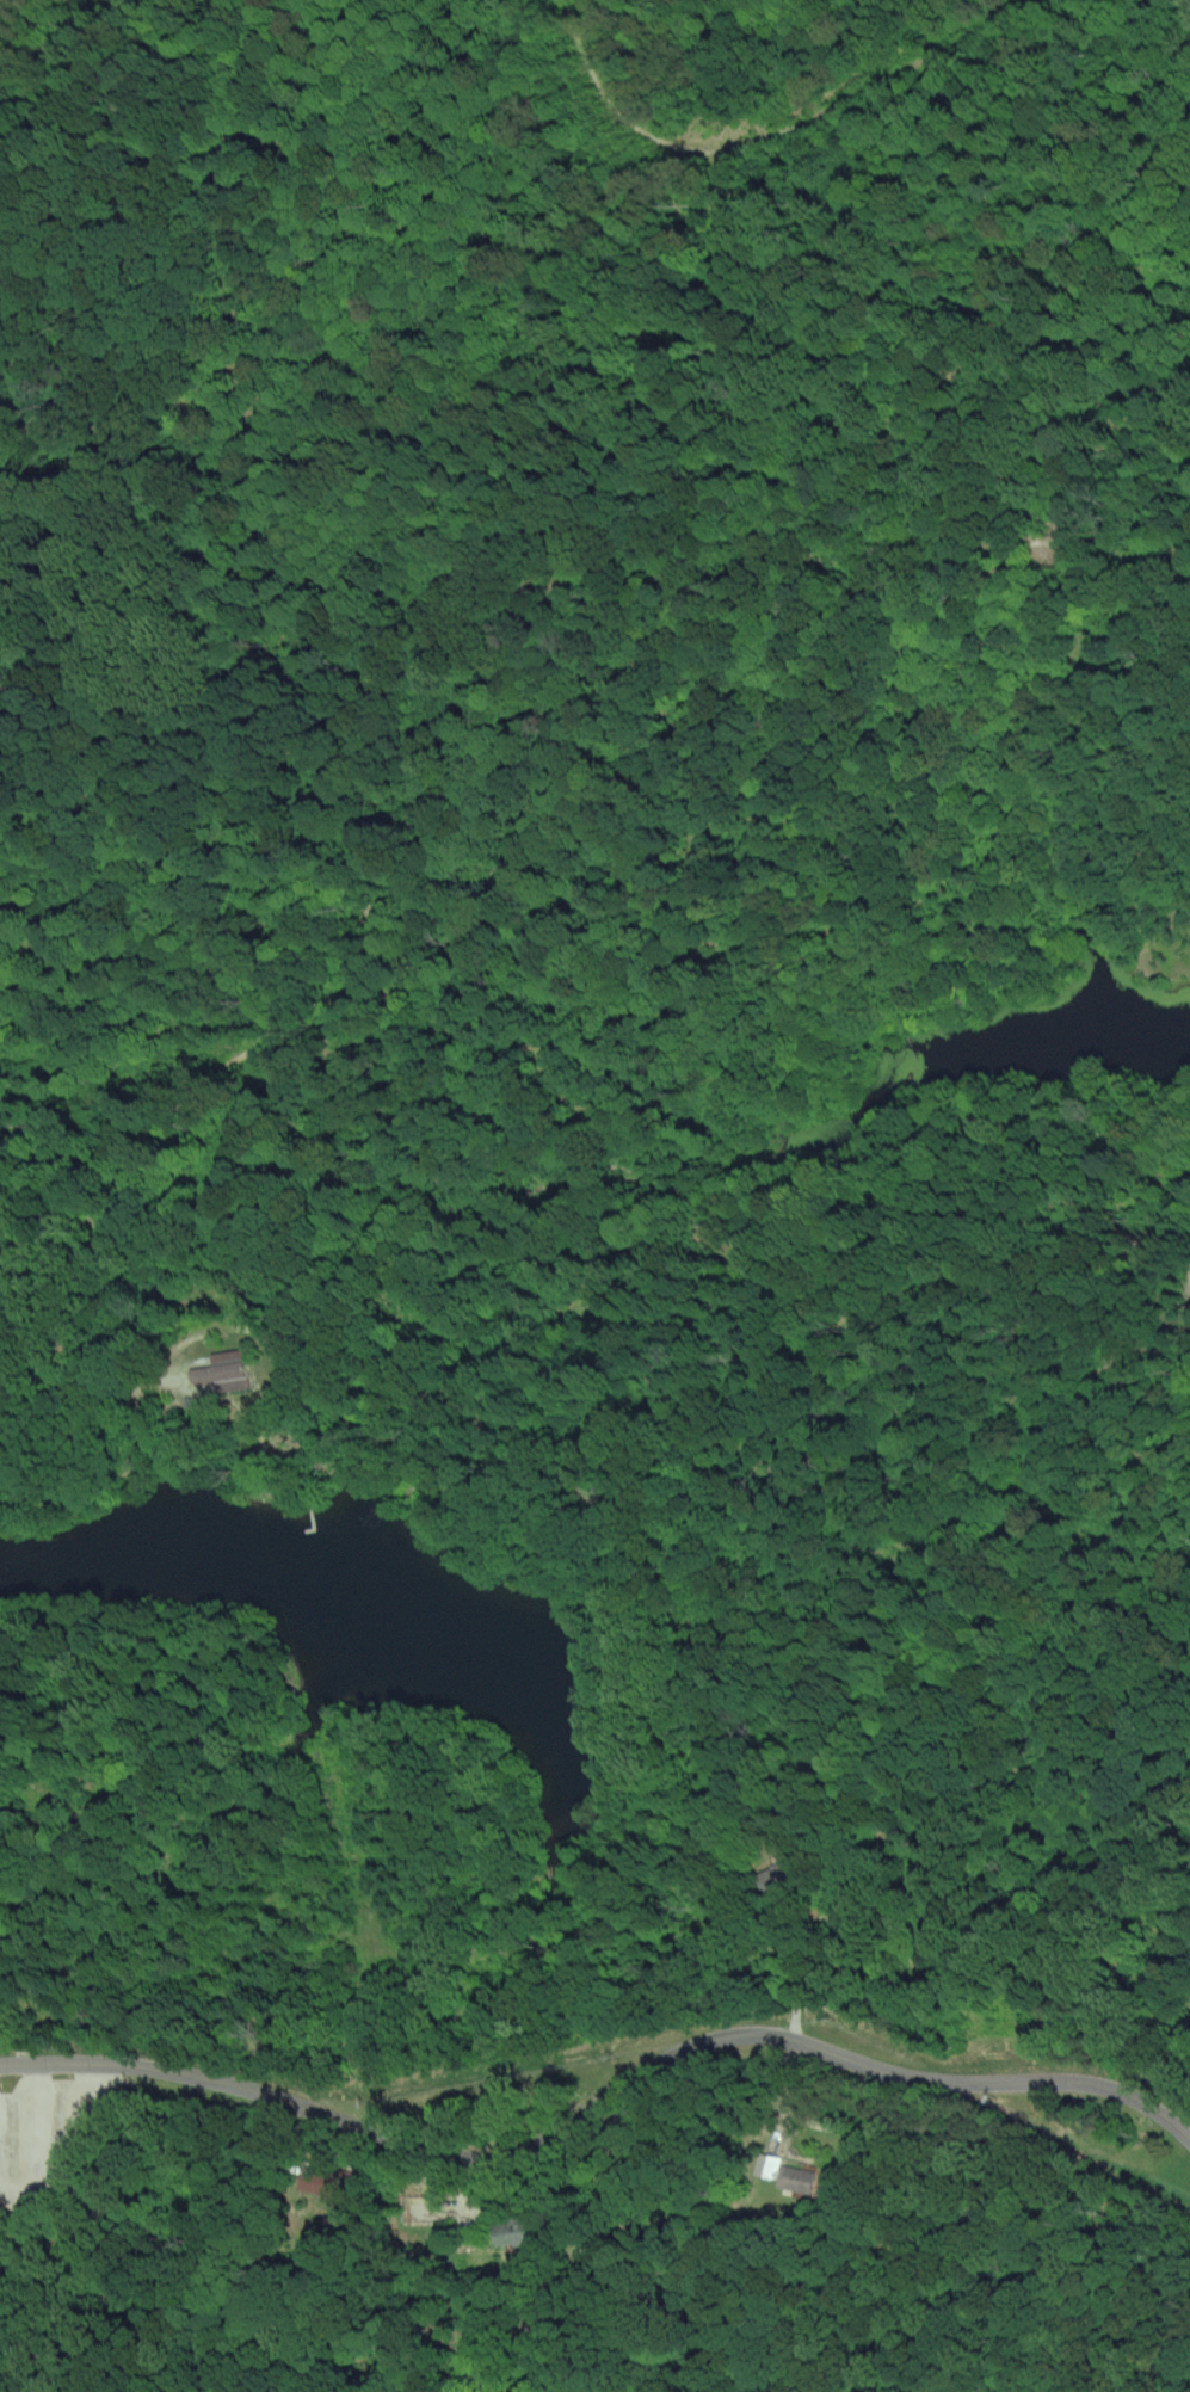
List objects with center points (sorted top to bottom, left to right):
building: (222, 1371)
building: (765, 1878)
road: (600, 2101)
road: (814, 2122)
road: (33, 2129)
road: (69, 2157)
building: (787, 2174)
building: (518, 2231)

